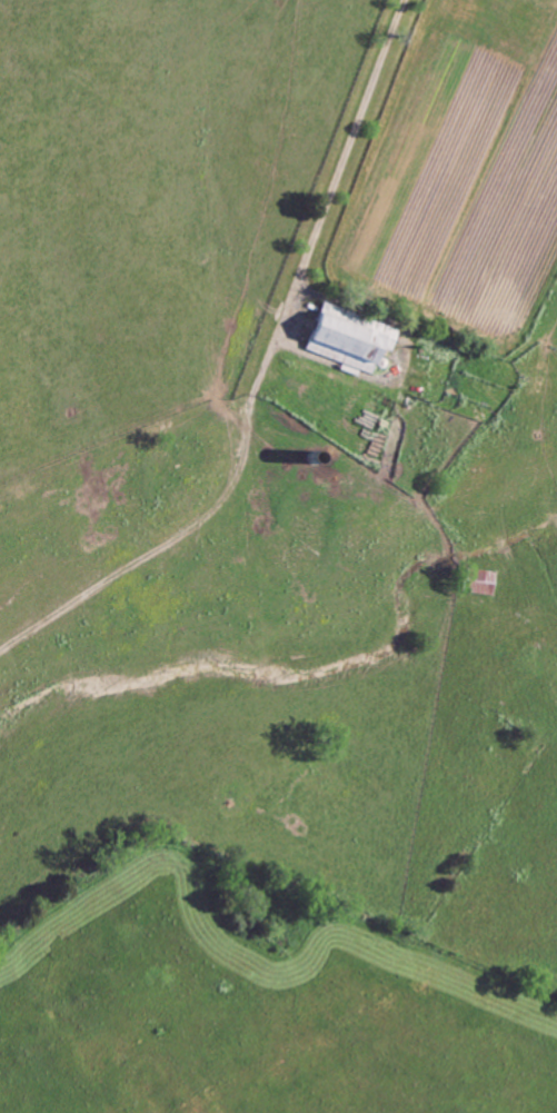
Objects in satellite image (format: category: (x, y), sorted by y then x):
road: (342, 161)
building: (351, 339)

